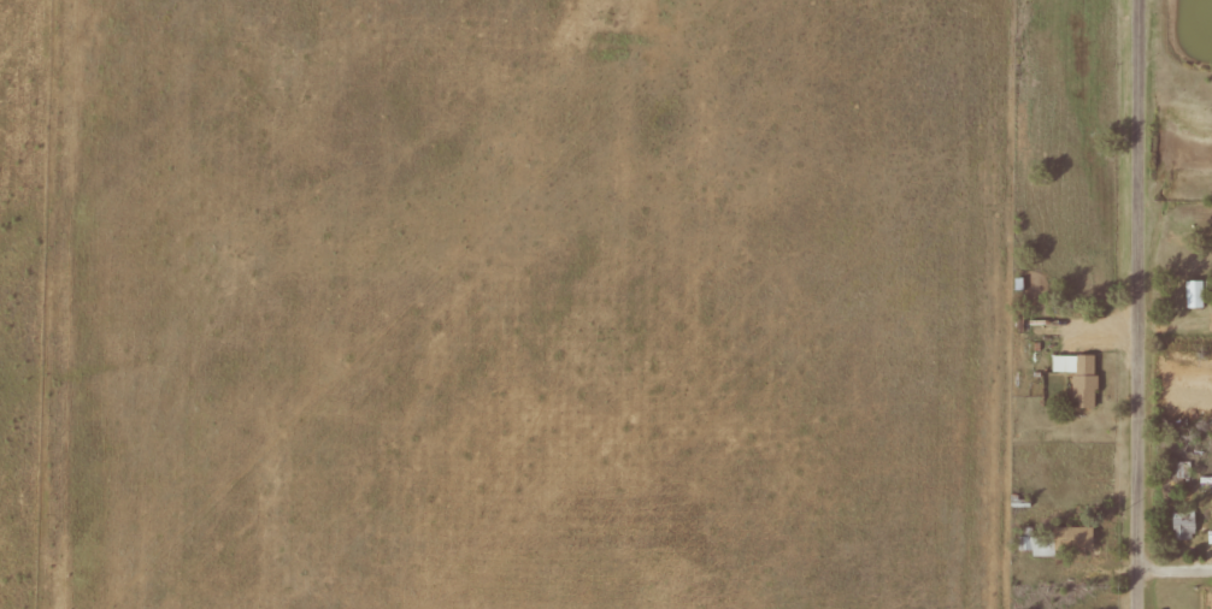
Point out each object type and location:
building: (1202, 295)
road: (1146, 304)
building: (1089, 382)
building: (1207, 479)
building: (1182, 524)
building: (1058, 540)
road: (1176, 574)

